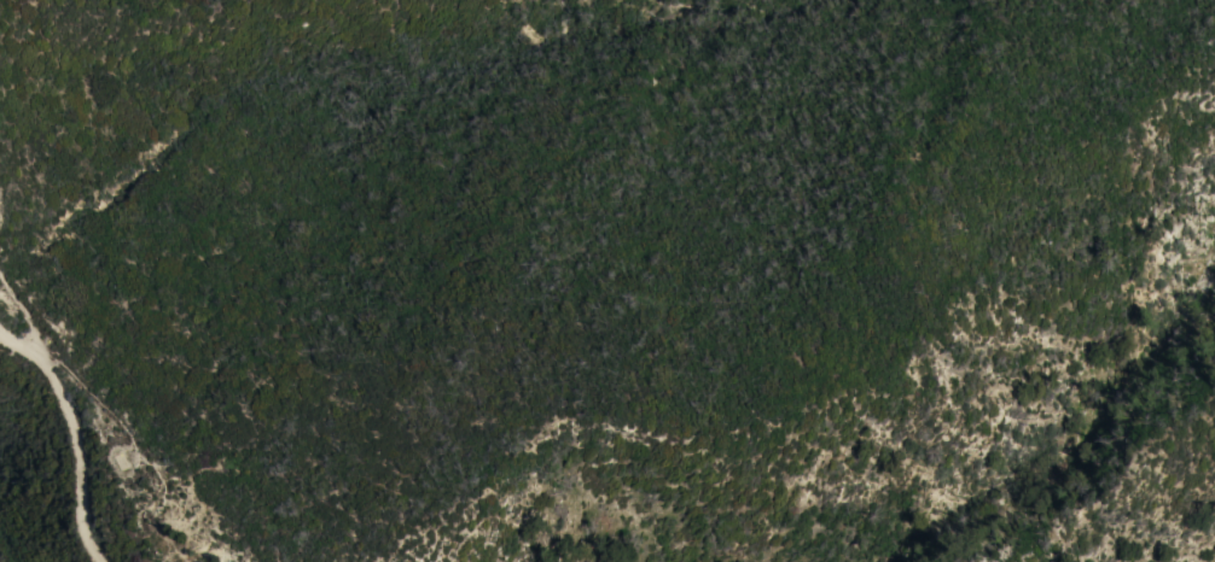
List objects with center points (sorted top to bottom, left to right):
road: (23, 306)
road: (104, 402)
road: (75, 432)

